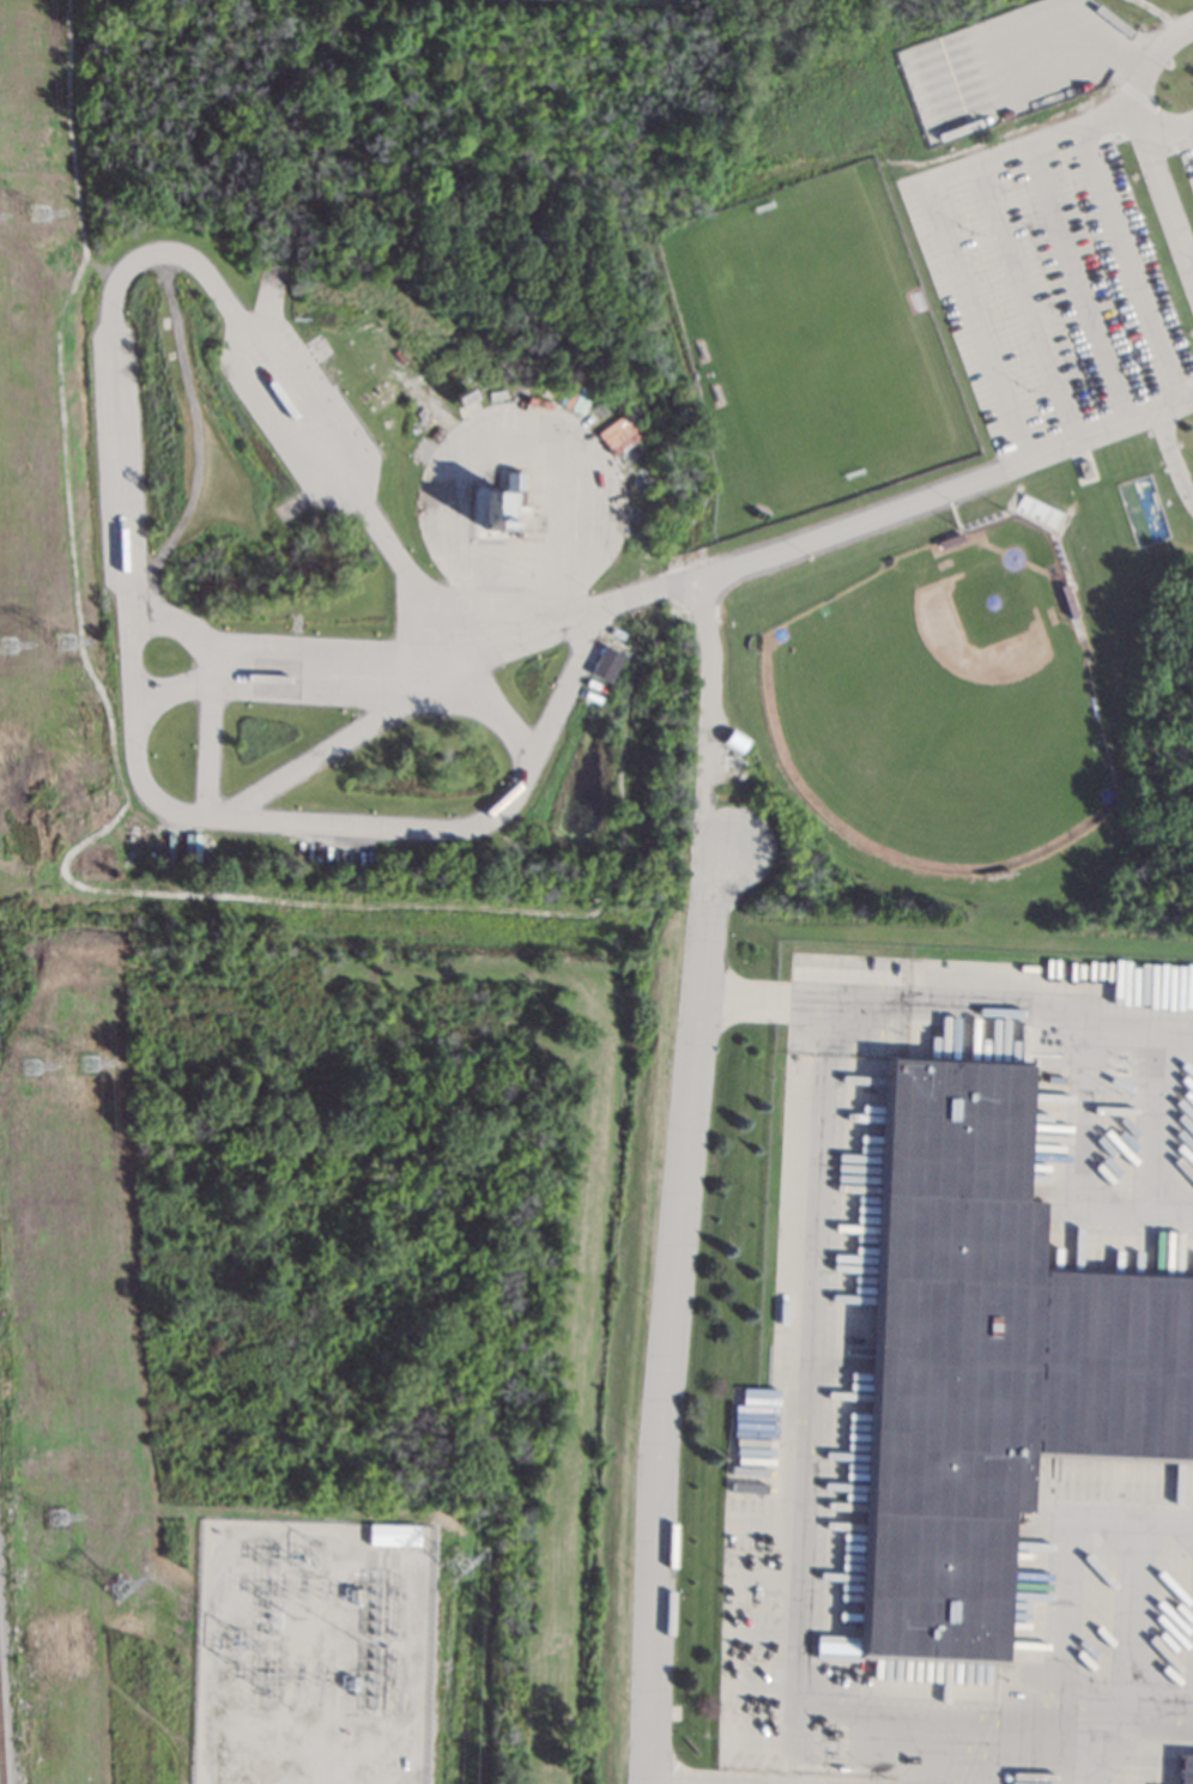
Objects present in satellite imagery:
road: (1167, 125)
road: (939, 177)
road: (1161, 186)
power tower: (35, 213)
road: (1130, 261)
parking lot: (1065, 266)
road: (1076, 282)
road: (1025, 301)
park: (809, 343)
building: (462, 394)
road: (526, 419)
building: (617, 434)
road: (1170, 456)
building: (1084, 467)
road: (116, 488)
building: (514, 504)
road: (822, 533)
building: (949, 540)
road: (525, 581)
building: (1068, 599)
power tower: (62, 642)
power tower: (2, 646)
building: (602, 664)
road: (286, 679)
road: (207, 688)
park: (944, 703)
road: (703, 719)
building: (733, 740)
road: (329, 749)
road: (842, 975)
parking lot: (847, 1004)
road: (888, 1015)
road: (801, 1029)
road: (1139, 1033)
road: (828, 1042)
power tower: (85, 1064)
power tower: (26, 1066)
road: (1084, 1083)
road: (1155, 1123)
road: (668, 1311)
building: (987, 1363)
road: (807, 1478)
power tower: (53, 1517)
building: (393, 1535)
power tower: (314, 1555)
power tower: (456, 1564)
power tower: (116, 1589)
road: (1136, 1607)
road: (1058, 1611)
power tower: (234, 1645)
power substation: (314, 1652)
parking lot: (773, 1658)
road: (417, 1674)
road: (1124, 1695)
road: (974, 1716)
road: (1095, 1720)
road: (983, 1725)
building: (1167, 1730)
road: (1062, 1738)
road: (793, 1746)
road: (1079, 1746)
railway: (1, 1754)
building: (1185, 1768)

